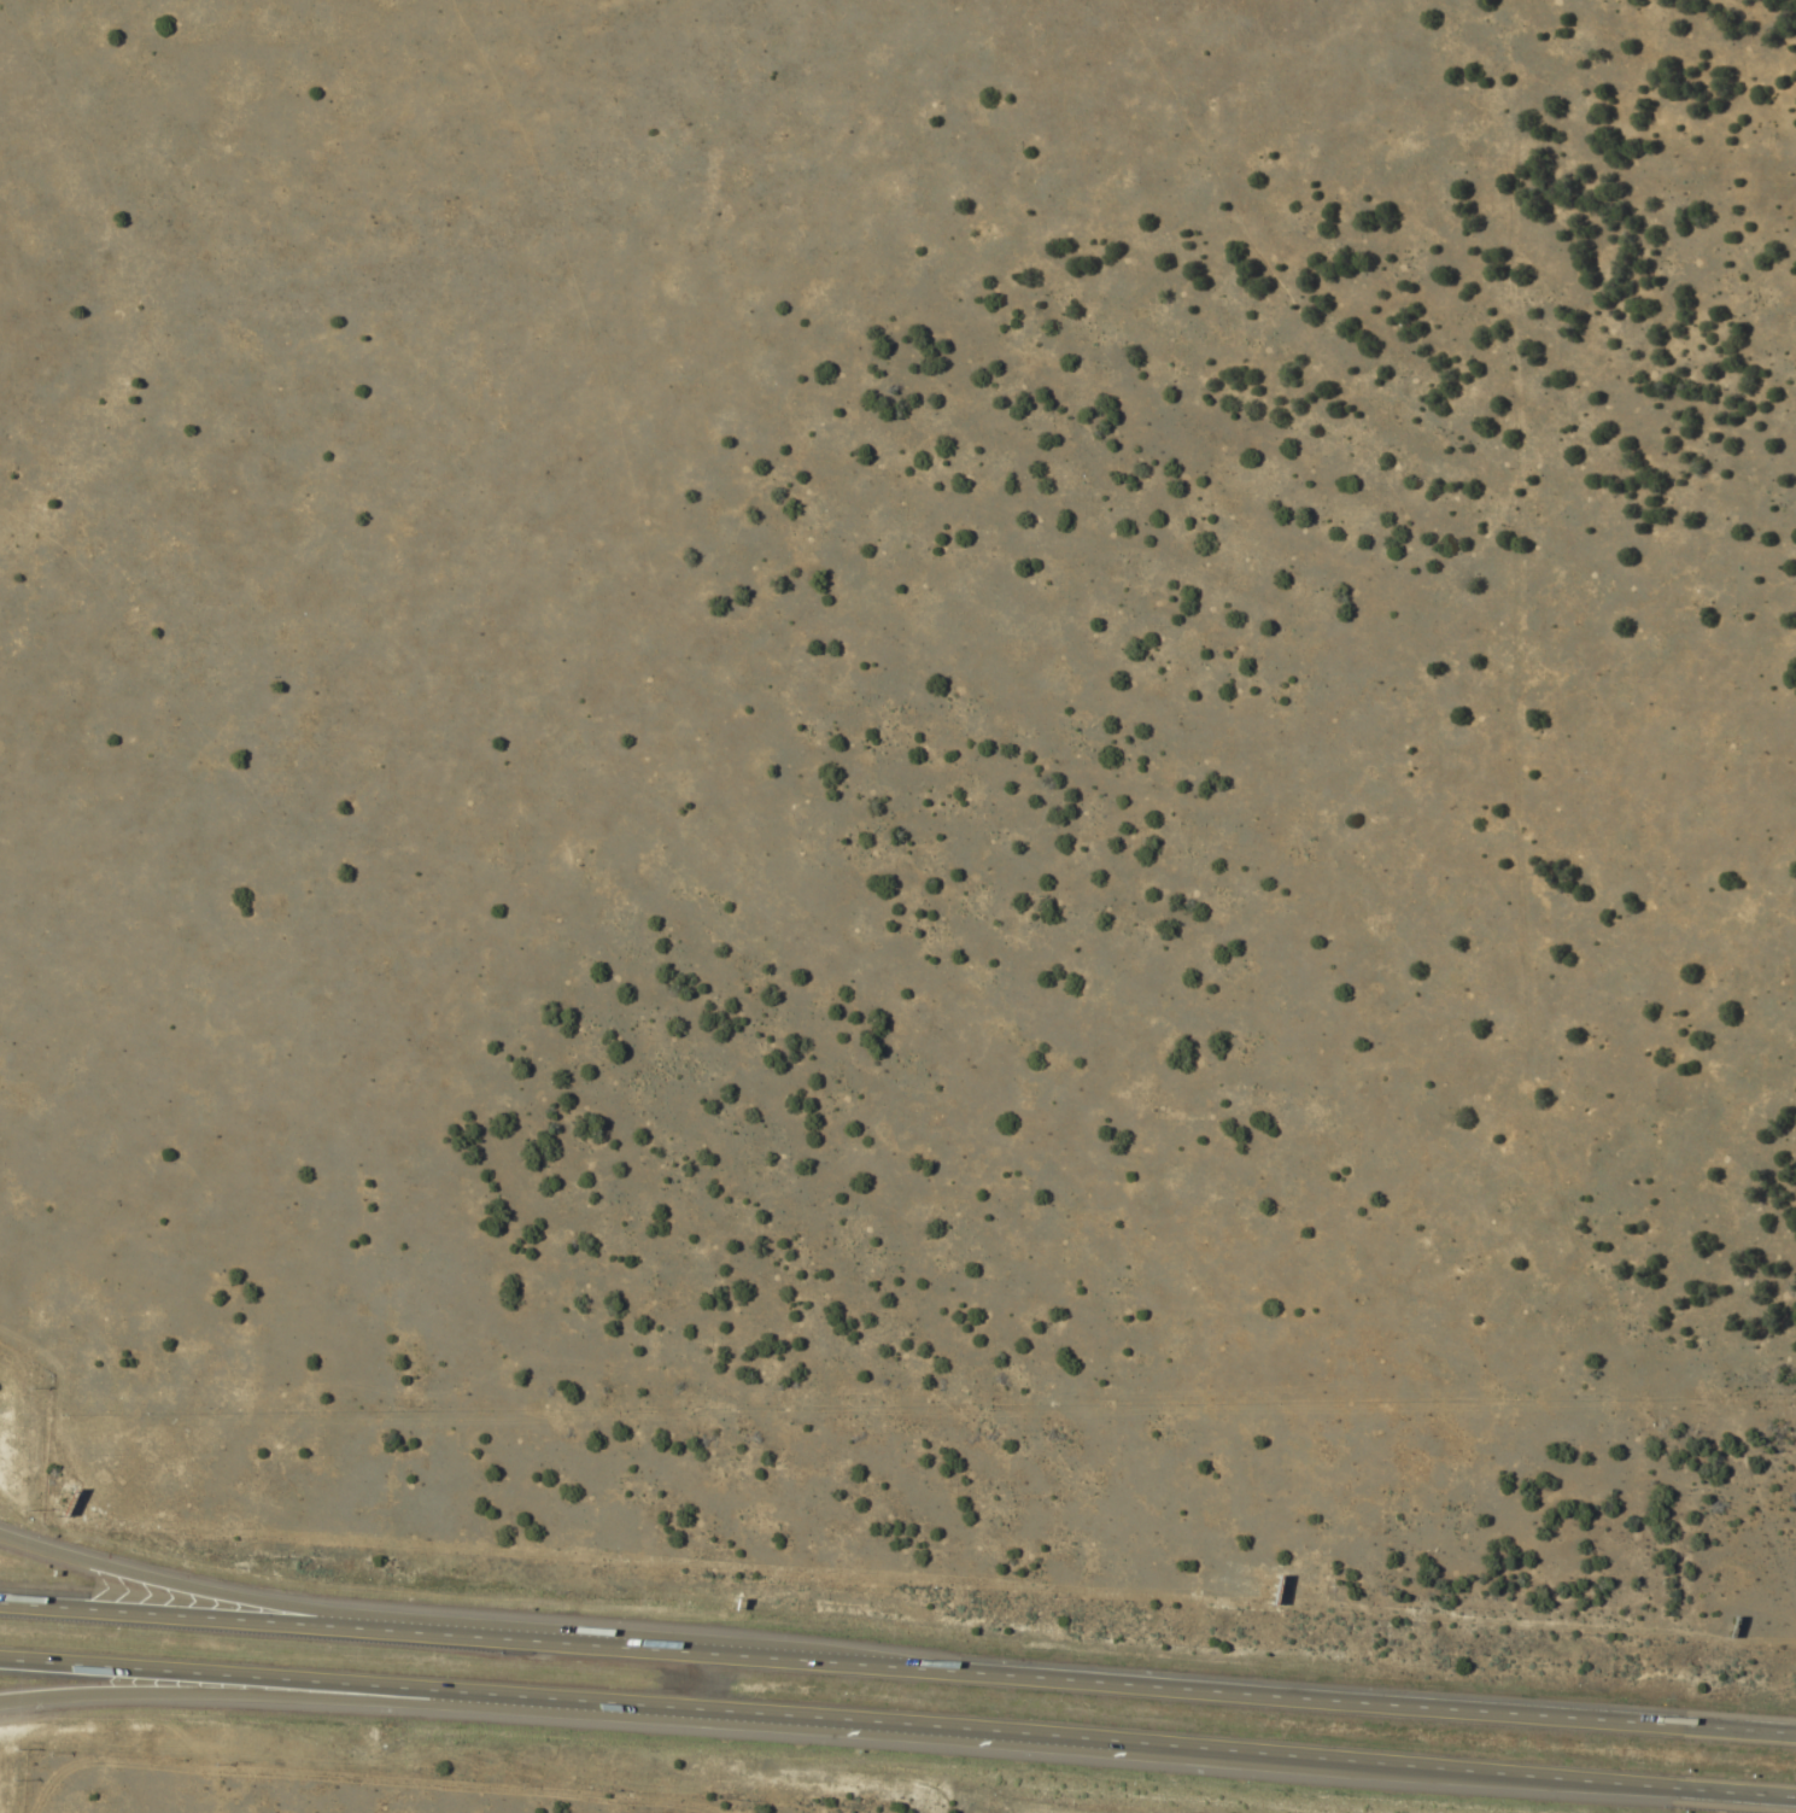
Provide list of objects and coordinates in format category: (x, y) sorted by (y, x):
road: (185, 1587)
road: (897, 1672)
road: (240, 1698)
road: (897, 1726)

